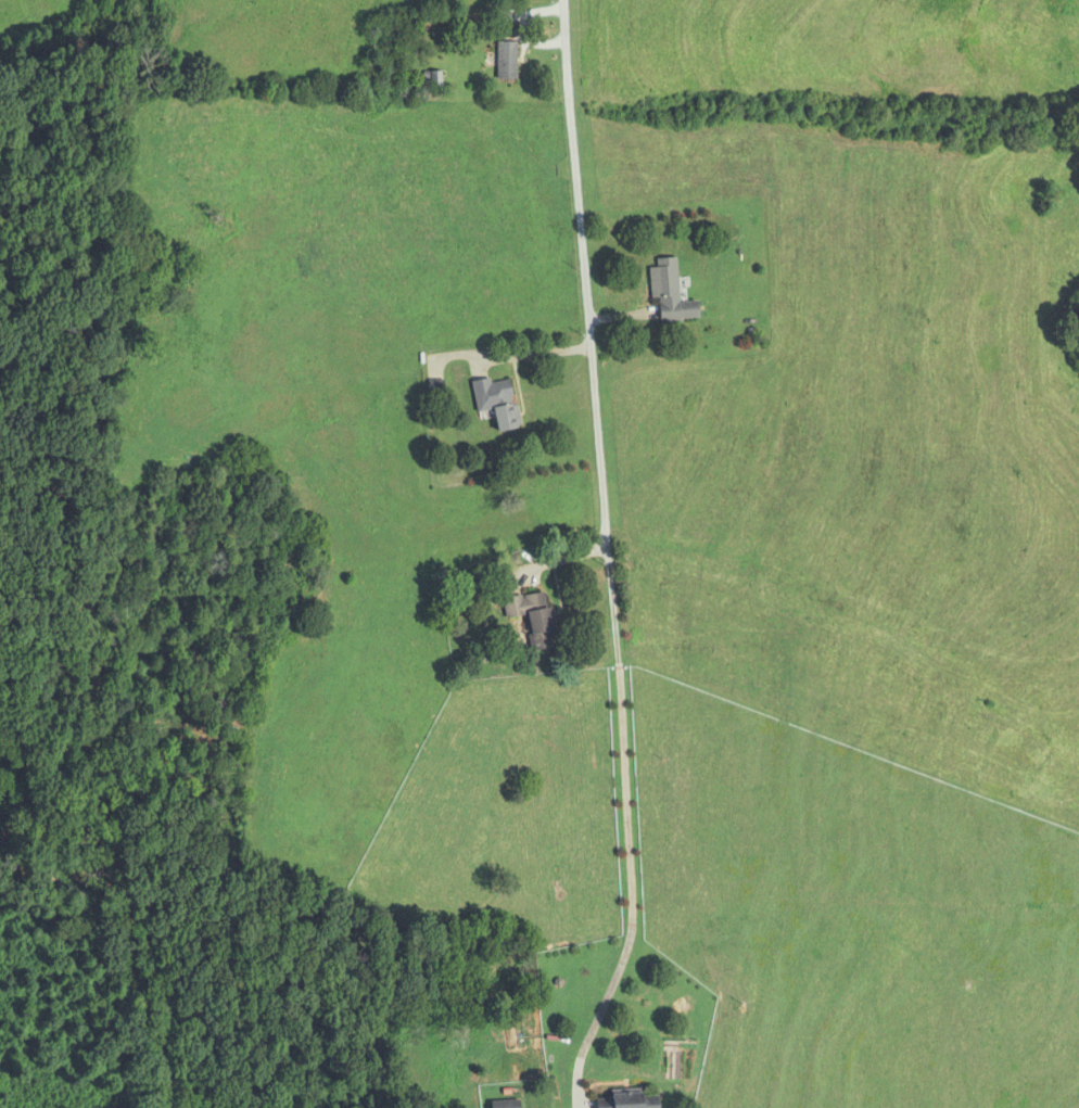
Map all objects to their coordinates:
building: (506, 61)
building: (670, 292)
road: (592, 329)
road: (538, 353)
building: (497, 403)
building: (533, 619)
road: (631, 888)
building: (629, 1101)
building: (506, 1105)

